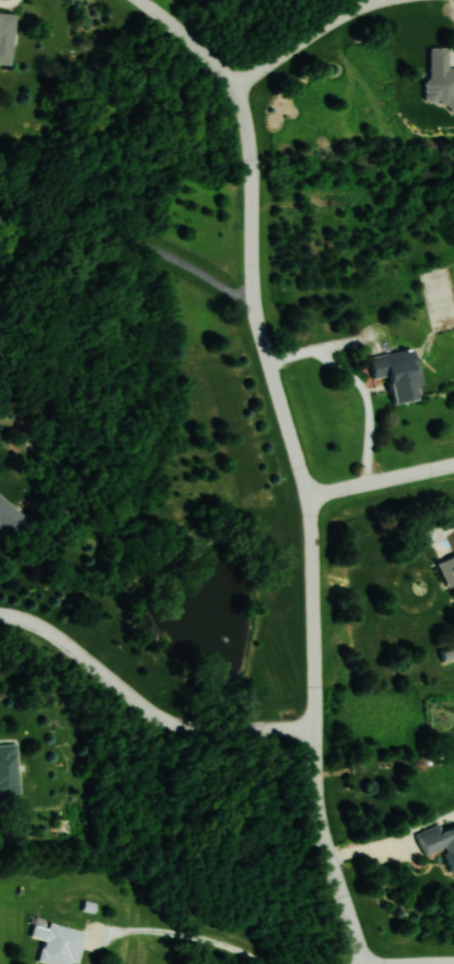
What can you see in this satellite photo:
road: (8, 4)
building: (6, 37)
road: (186, 37)
road: (304, 39)
building: (440, 74)
road: (139, 243)
building: (399, 373)
road: (379, 481)
building: (11, 519)
road: (307, 522)
road: (448, 528)
building: (448, 570)
building: (448, 653)
road: (144, 708)
building: (8, 768)
building: (437, 841)
road: (192, 937)
building: (60, 944)
road: (431, 963)

